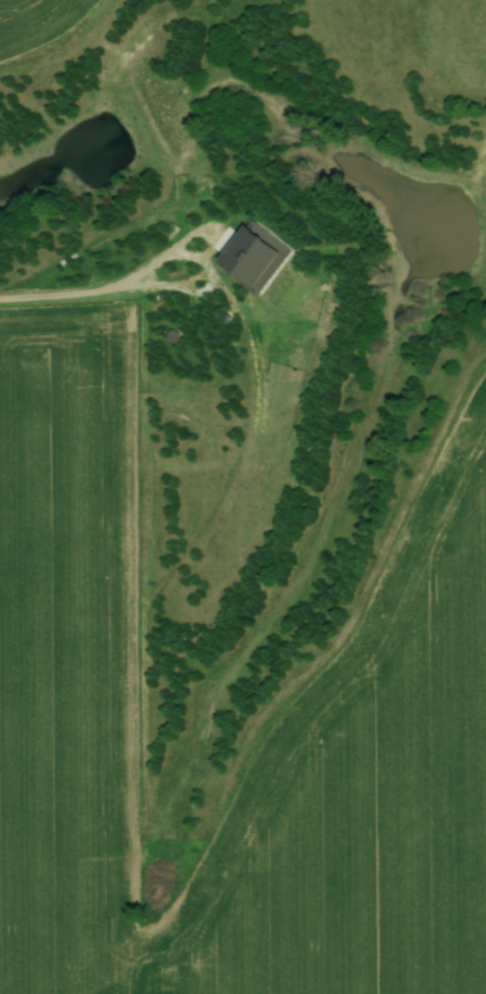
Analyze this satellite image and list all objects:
crop: (40, 23)
crop: (456, 50)

